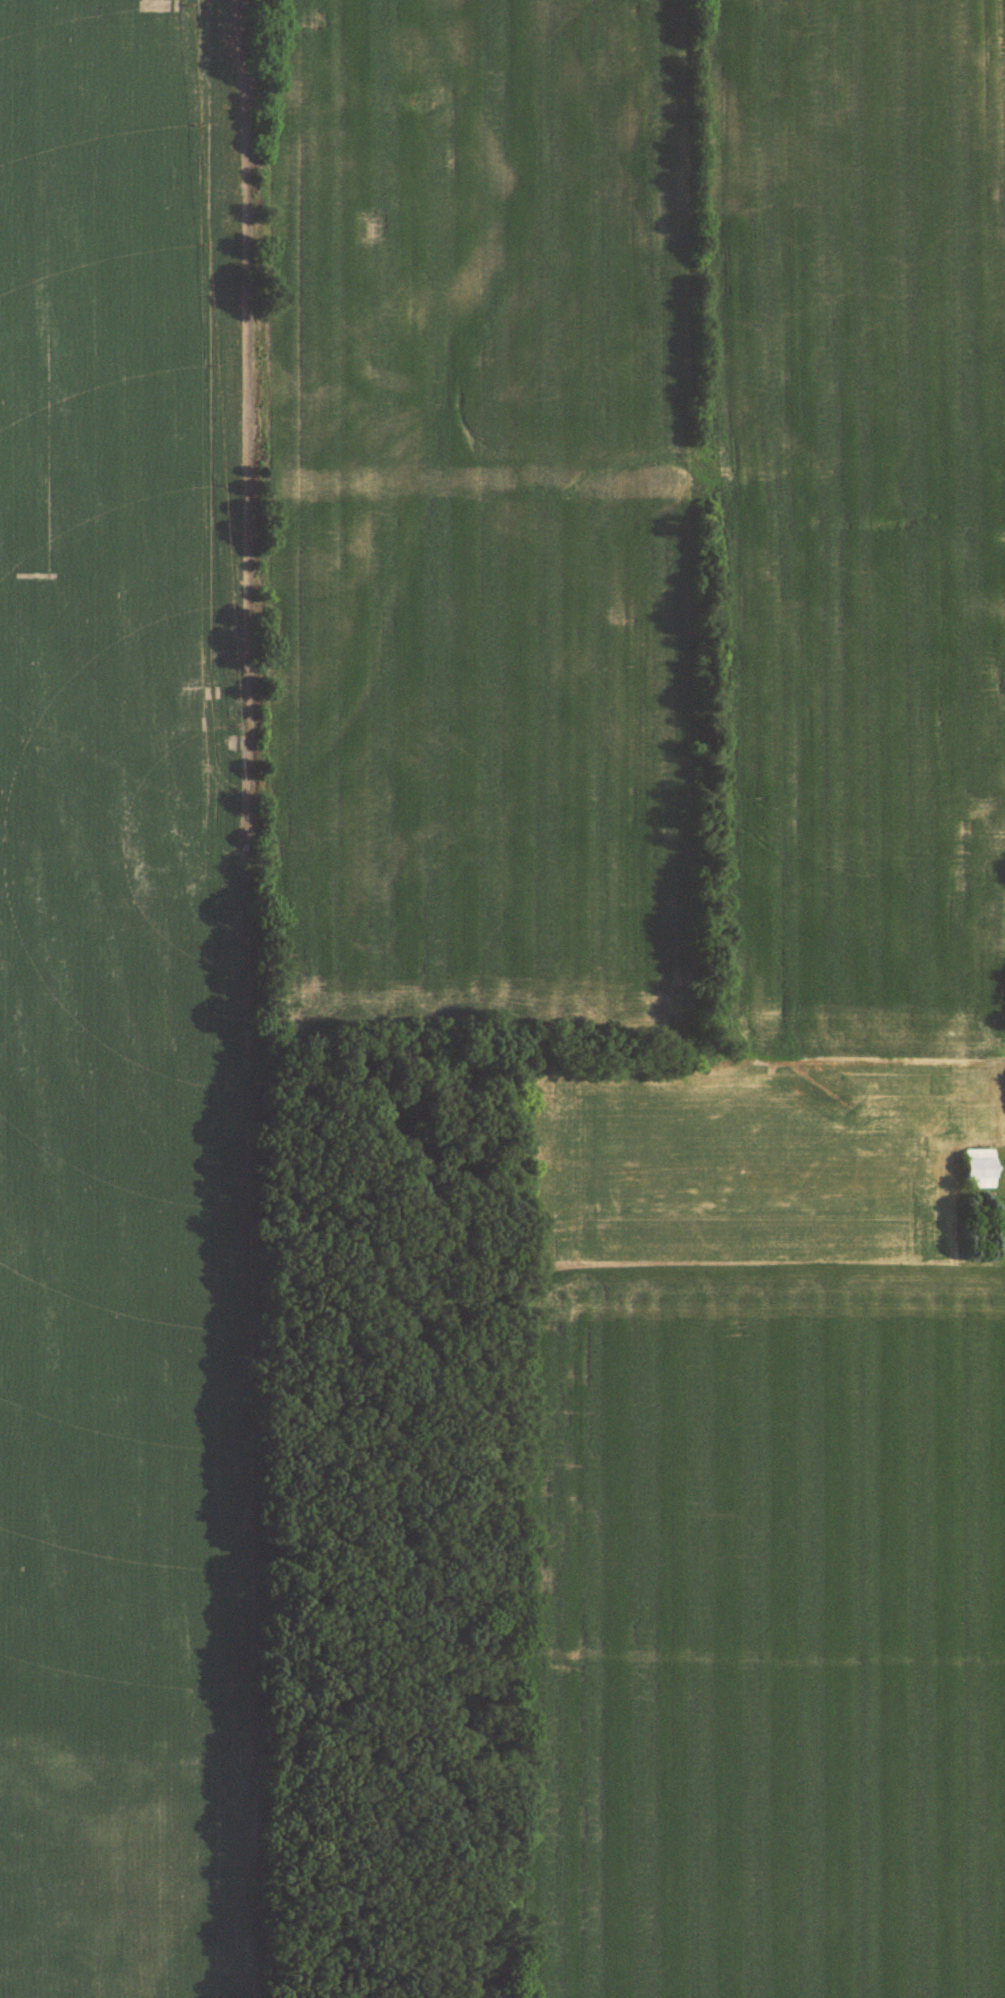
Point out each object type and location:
building: (981, 1169)

